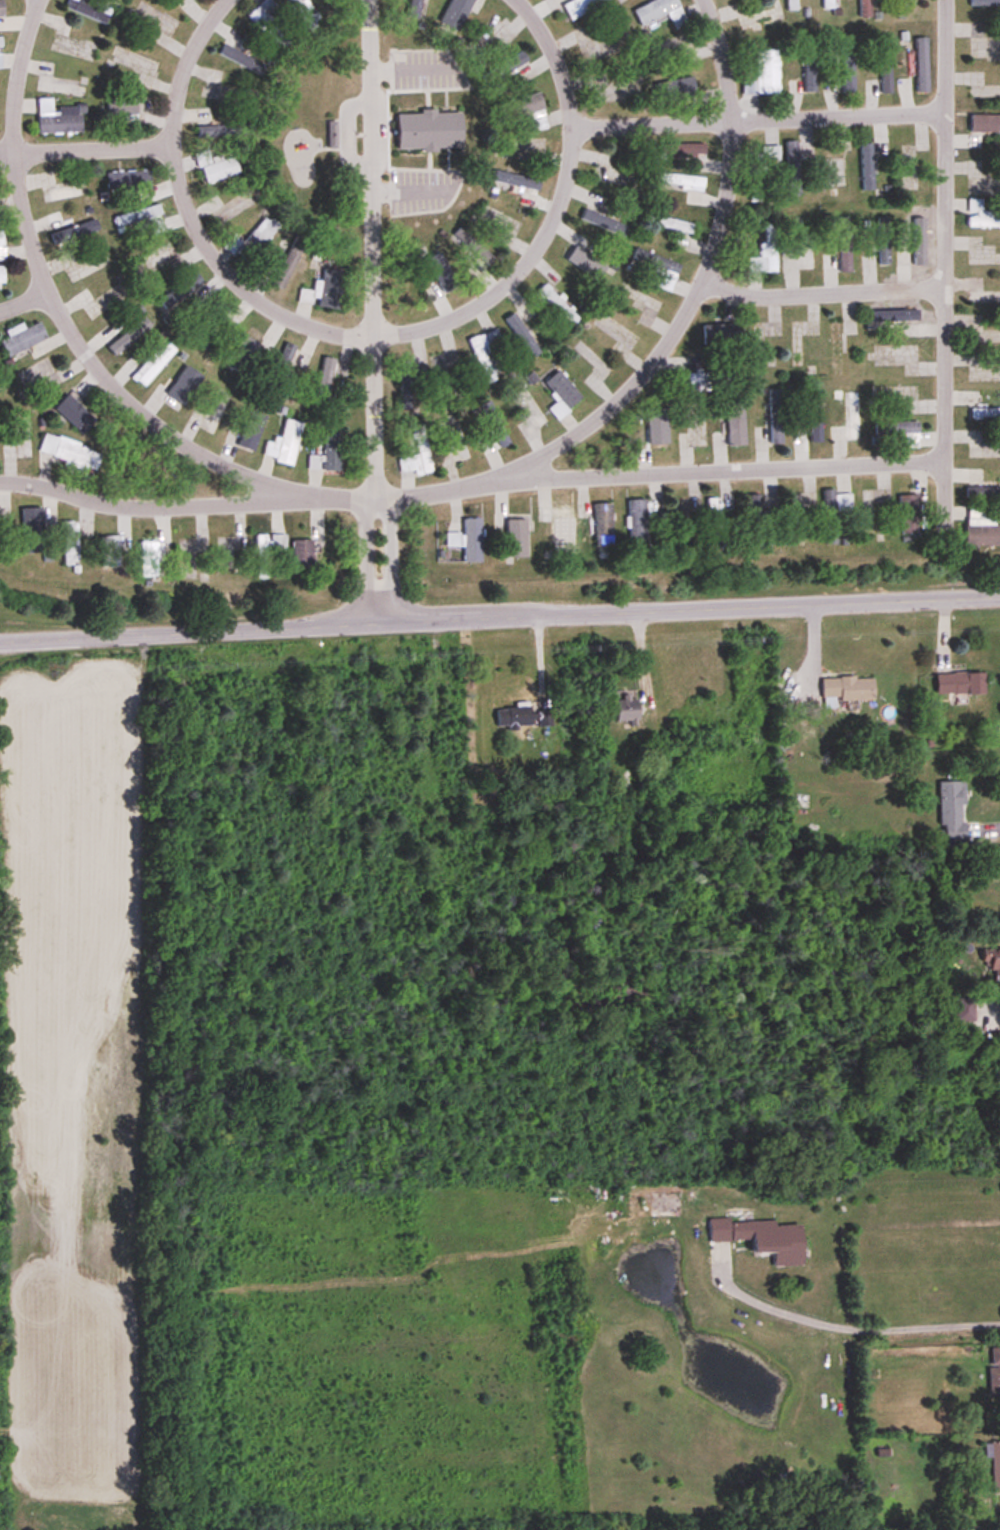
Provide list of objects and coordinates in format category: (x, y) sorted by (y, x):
building: (827, 4)
building: (905, 4)
building: (791, 5)
building: (582, 6)
building: (1, 8)
building: (864, 8)
building: (89, 10)
building: (660, 12)
building: (305, 13)
building: (456, 13)
building: (268, 23)
building: (0, 43)
building: (0, 61)
building: (922, 65)
building: (505, 69)
building: (46, 73)
building: (764, 75)
building: (886, 75)
building: (215, 86)
building: (675, 90)
building: (530, 111)
building: (58, 119)
road: (755, 119)
building: (985, 124)
building: (221, 128)
building: (429, 132)
building: (332, 136)
road: (83, 148)
building: (683, 149)
building: (217, 168)
building: (793, 168)
building: (760, 169)
building: (908, 171)
building: (679, 181)
building: (129, 182)
building: (66, 193)
building: (981, 216)
building: (603, 217)
building: (143, 220)
building: (675, 225)
building: (70, 229)
road: (939, 230)
building: (253, 240)
building: (2, 245)
road: (371, 247)
building: (474, 248)
building: (765, 253)
building: (845, 254)
building: (582, 257)
building: (289, 263)
building: (658, 268)
building: (440, 275)
building: (2, 276)
building: (191, 290)
building: (326, 290)
road: (818, 291)
building: (984, 298)
road: (20, 301)
building: (101, 302)
building: (558, 305)
building: (895, 315)
road: (668, 333)
building: (719, 334)
building: (130, 336)
road: (369, 336)
building: (522, 336)
road: (73, 338)
building: (24, 339)
building: (245, 350)
building: (483, 354)
building: (154, 364)
building: (282, 366)
building: (443, 371)
building: (331, 373)
building: (40, 376)
building: (708, 380)
building: (406, 389)
building: (183, 390)
building: (562, 395)
building: (531, 406)
building: (985, 413)
building: (75, 414)
building: (209, 417)
building: (775, 417)
building: (815, 419)
building: (849, 422)
building: (735, 424)
building: (495, 425)
building: (655, 431)
building: (900, 431)
building: (20, 440)
building: (421, 441)
building: (457, 441)
building: (285, 444)
building: (488, 446)
building: (332, 449)
building: (72, 455)
building: (313, 463)
road: (660, 477)
building: (983, 491)
road: (185, 505)
building: (867, 509)
building: (834, 512)
building: (909, 514)
building: (797, 516)
building: (713, 518)
building: (638, 521)
building: (755, 521)
building: (602, 524)
building: (560, 527)
building: (981, 528)
building: (33, 530)
building: (516, 535)
building: (453, 540)
building: (472, 540)
building: (71, 543)
building: (110, 551)
building: (227, 552)
building: (267, 552)
building: (302, 554)
road: (386, 556)
building: (192, 557)
road: (367, 557)
building: (149, 559)
road: (499, 617)
building: (959, 683)
building: (847, 689)
building: (625, 708)
building: (521, 717)
building: (950, 806)
road: (991, 823)
building: (992, 961)
road: (988, 1007)
building: (964, 1015)
building: (763, 1238)
road: (859, 1324)
building: (994, 1369)
building: (995, 1467)

